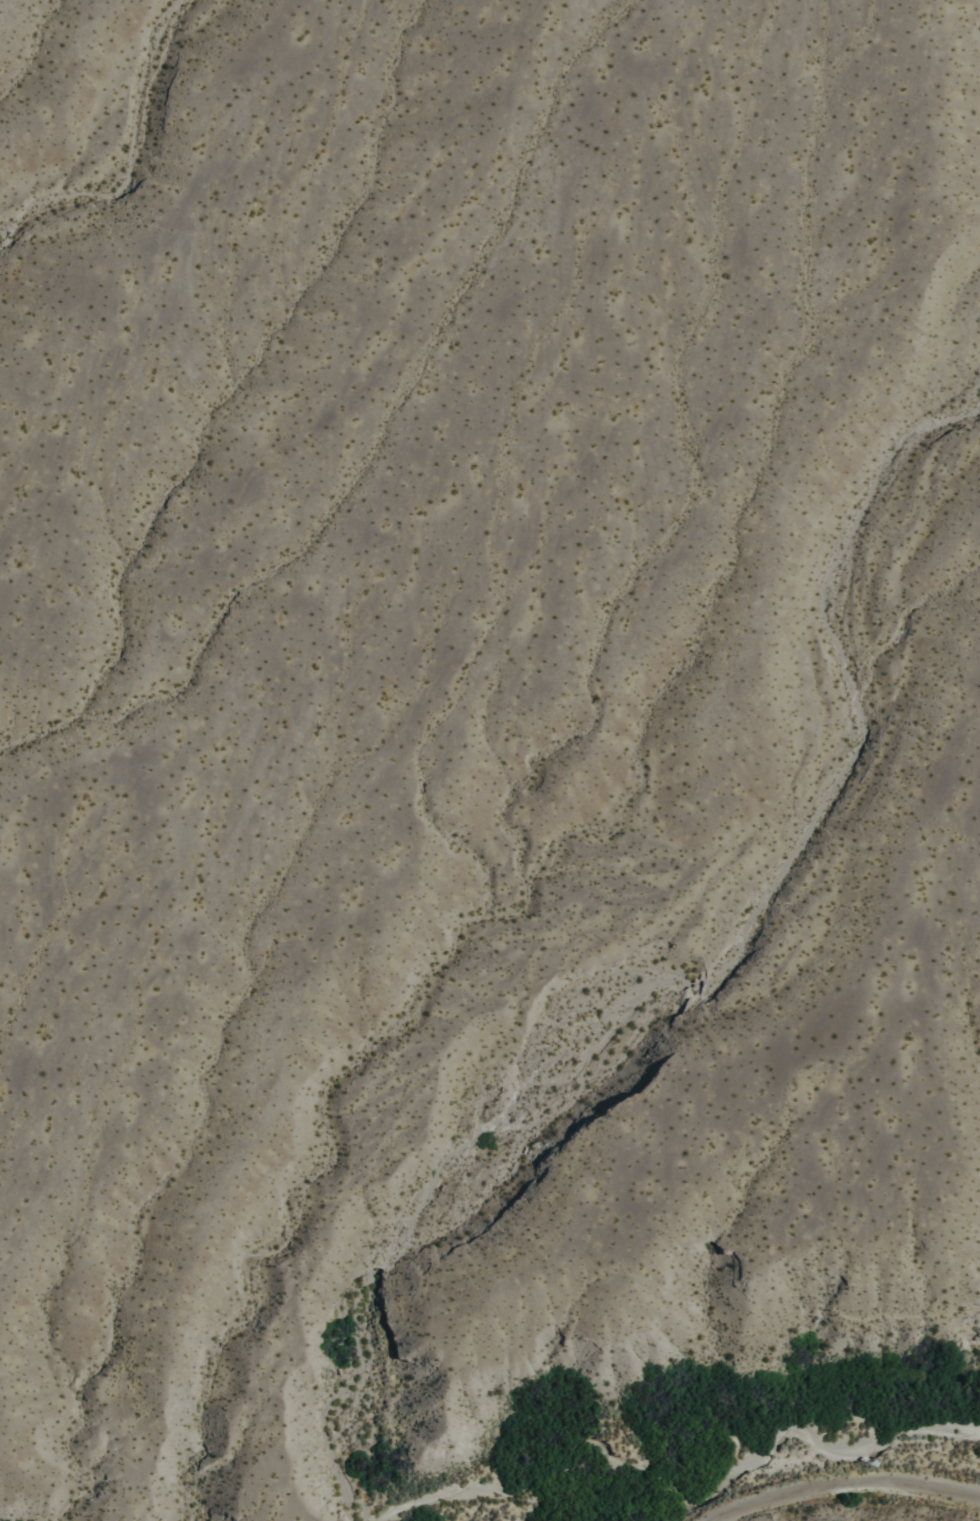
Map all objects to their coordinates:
road: (845, 1484)

